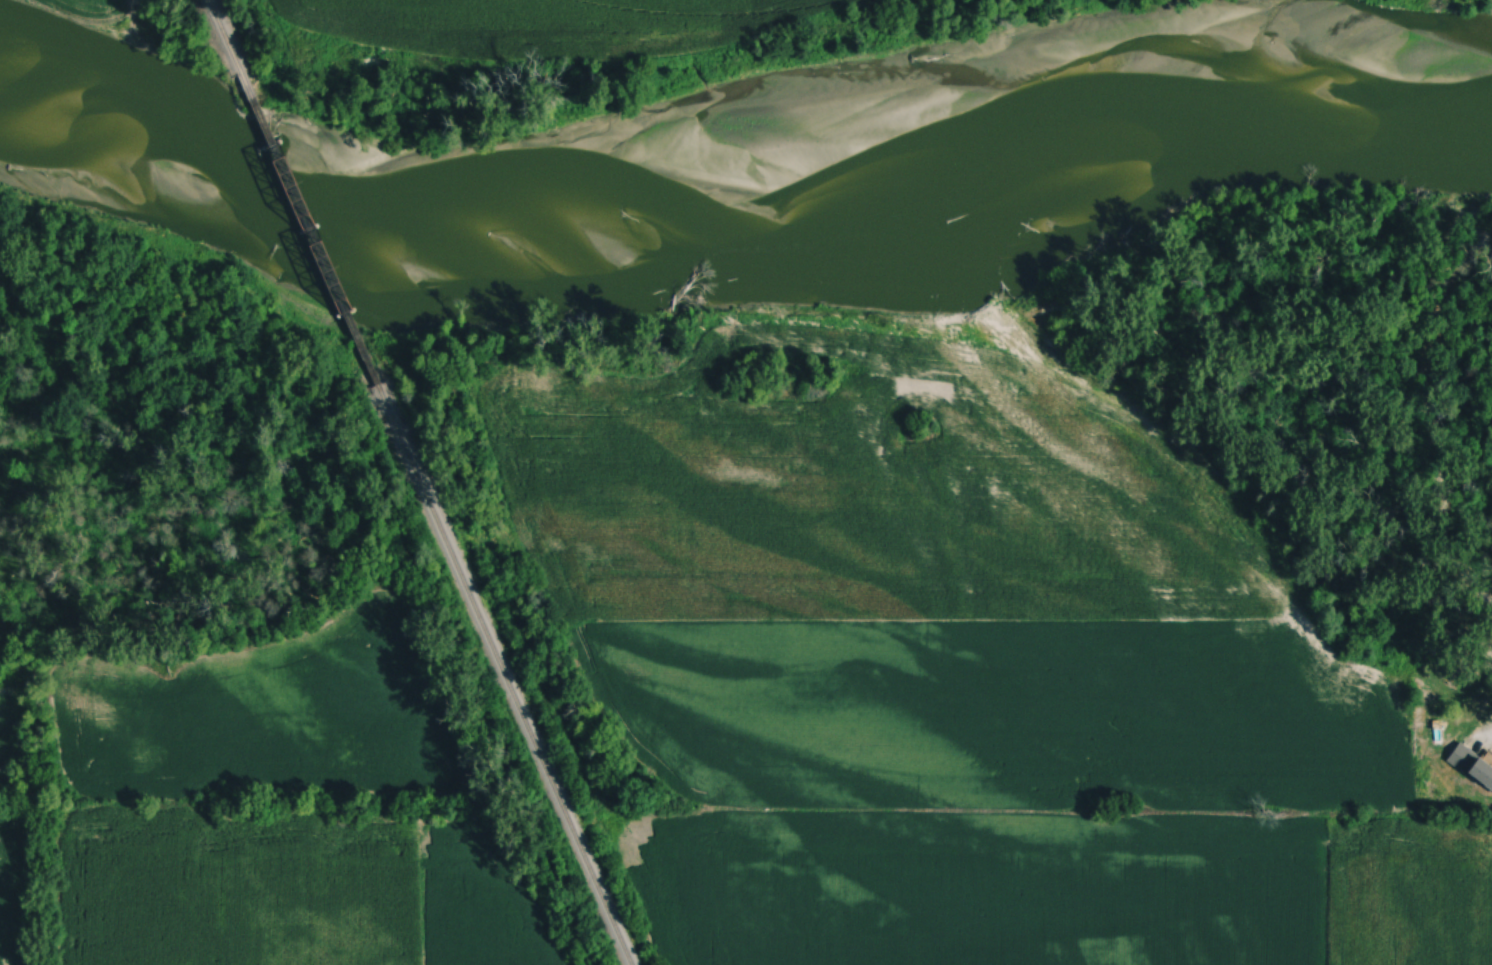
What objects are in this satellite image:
railway: (228, 35)
river: (747, 185)
railway: (311, 226)
railway: (505, 673)
building: (1484, 771)

